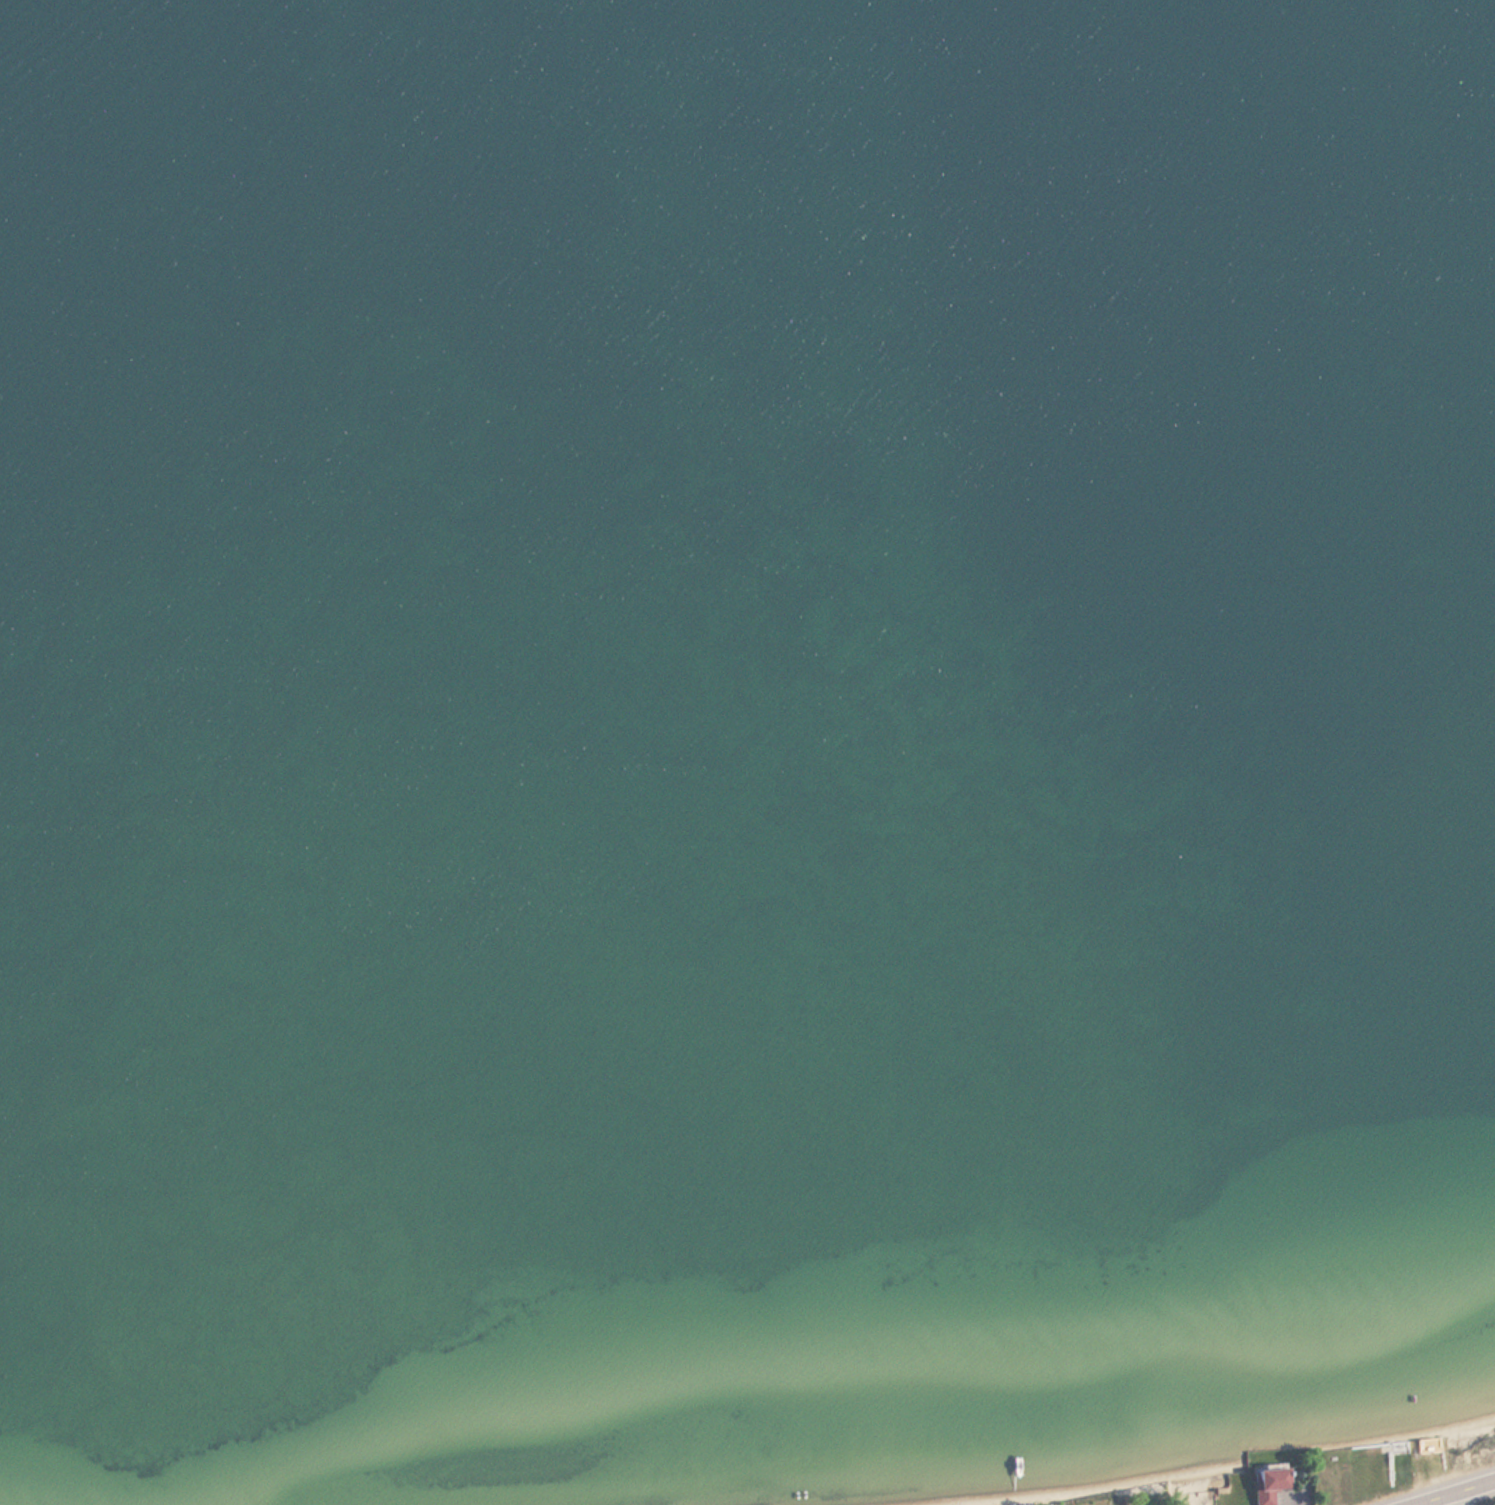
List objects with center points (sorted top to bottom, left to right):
building: (1430, 1446)
building: (1270, 1484)
road: (1456, 1494)
road: (1430, 1503)

